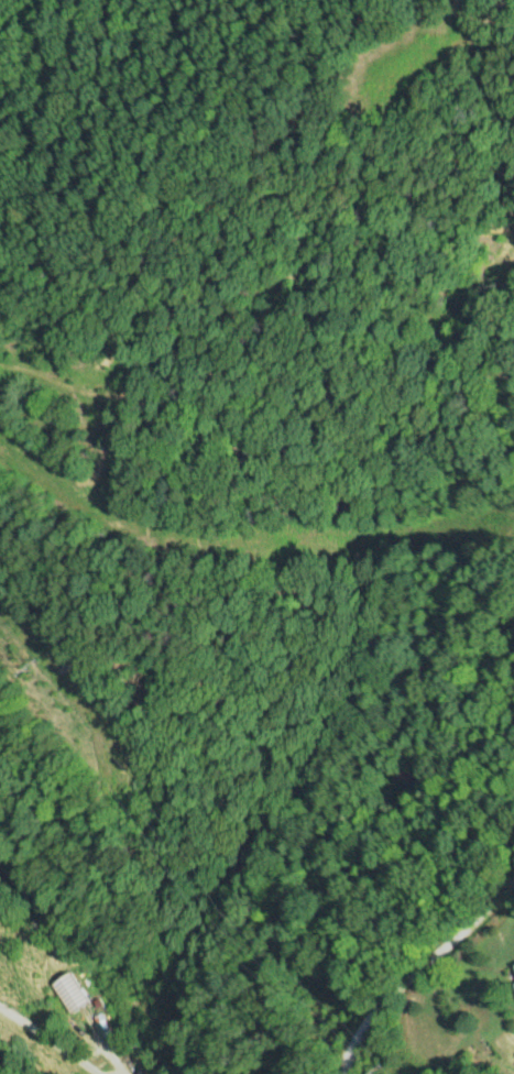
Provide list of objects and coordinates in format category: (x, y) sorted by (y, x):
building: (513, 964)
building: (513, 982)
building: (67, 991)

